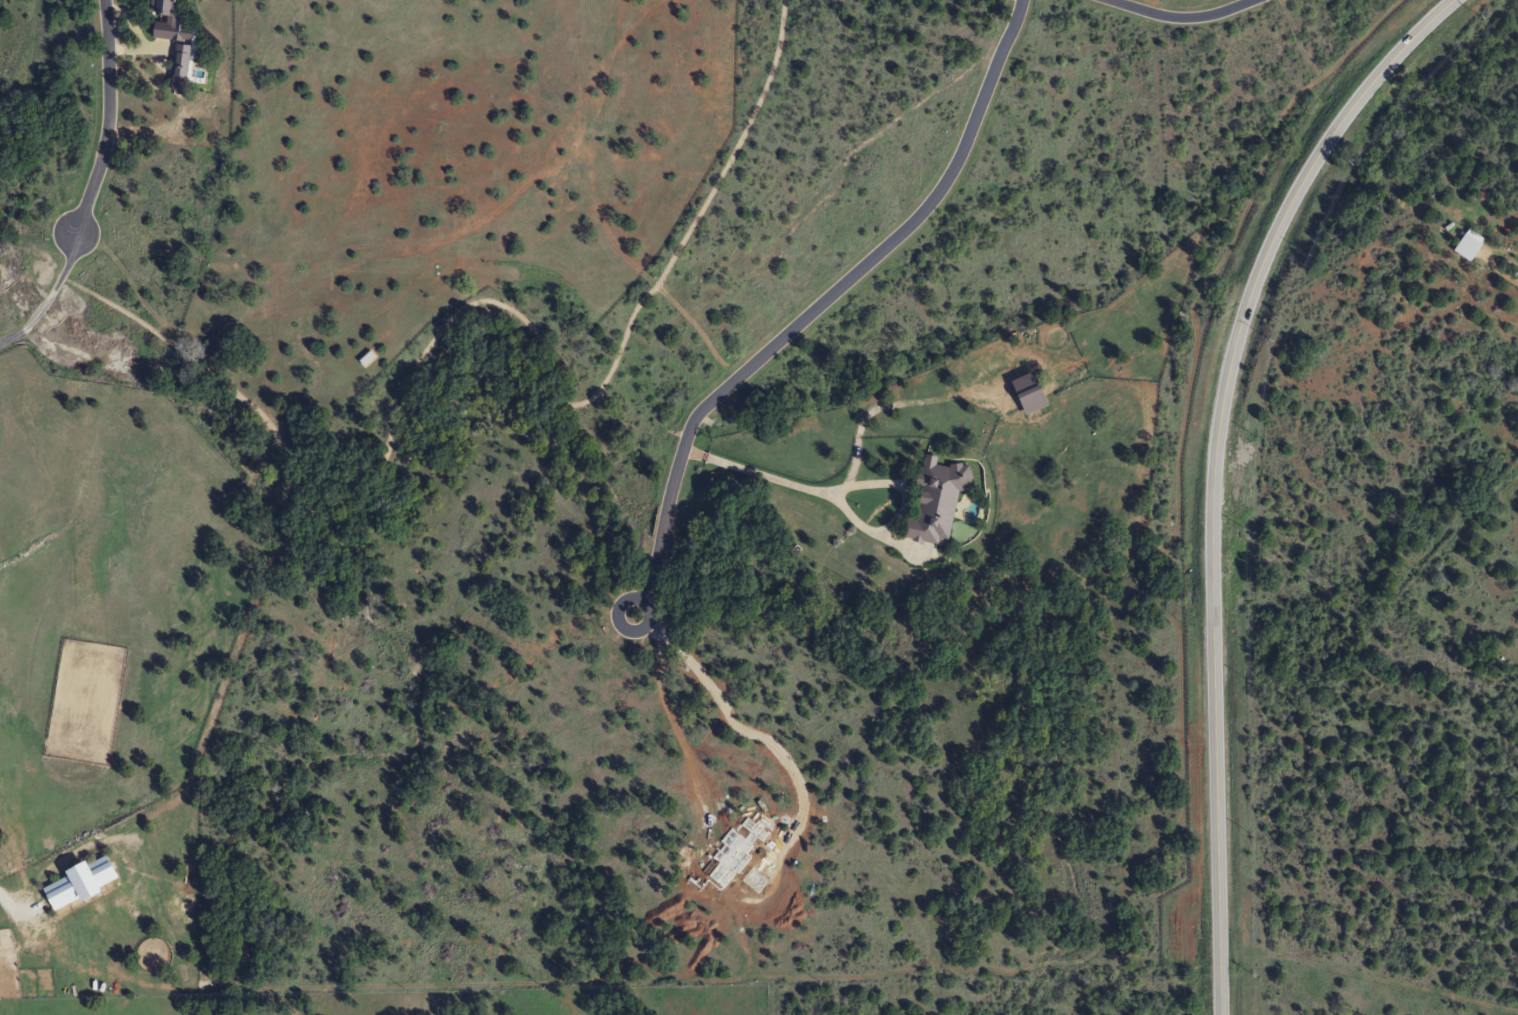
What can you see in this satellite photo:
road: (1182, 18)
road: (92, 185)
road: (818, 306)
building: (1022, 394)
road: (1213, 471)
building: (934, 500)
building: (75, 883)

